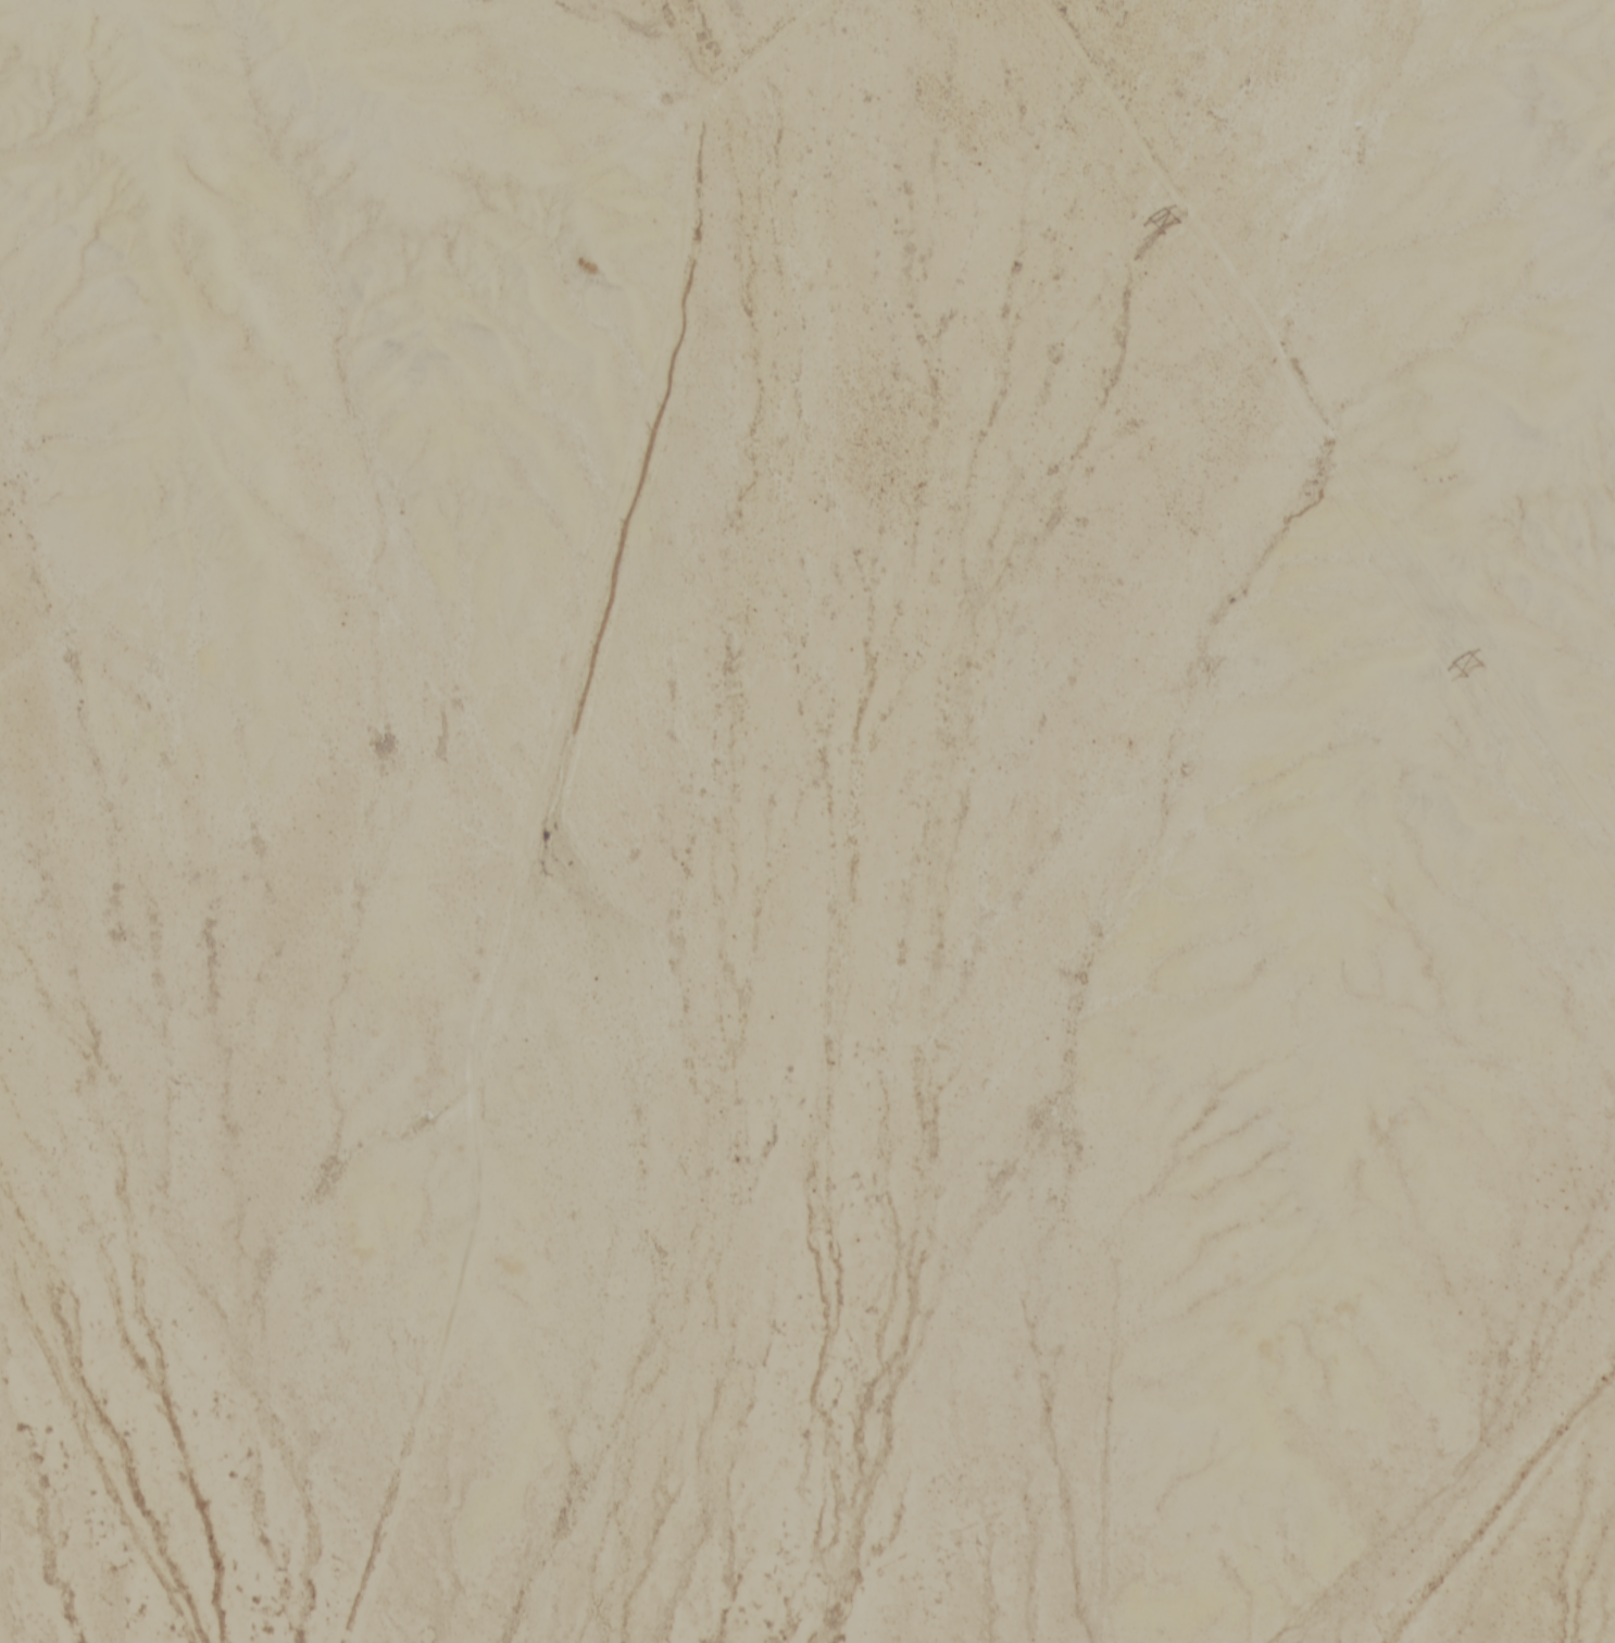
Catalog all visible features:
power tower: (1169, 221)
power tower: (1476, 665)

